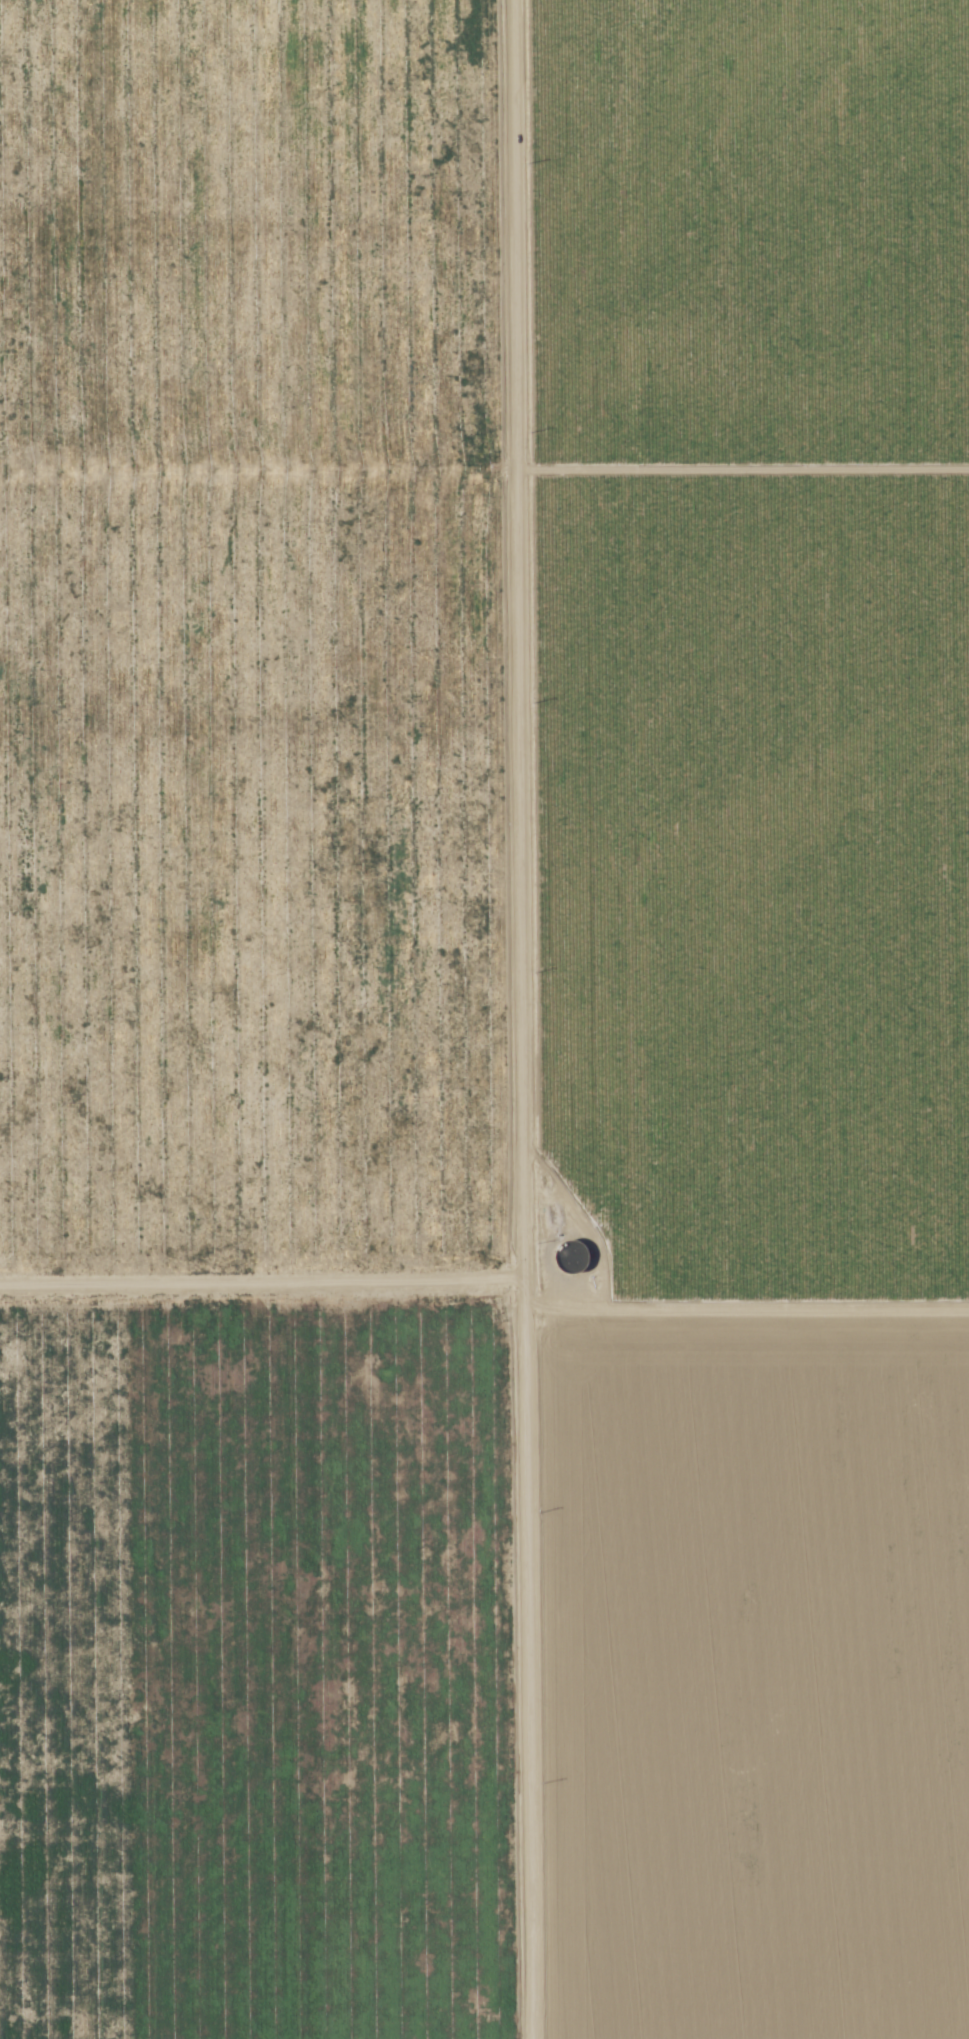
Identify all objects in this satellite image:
crop: (743, 1007)
road: (521, 1019)
crop: (257, 1027)

